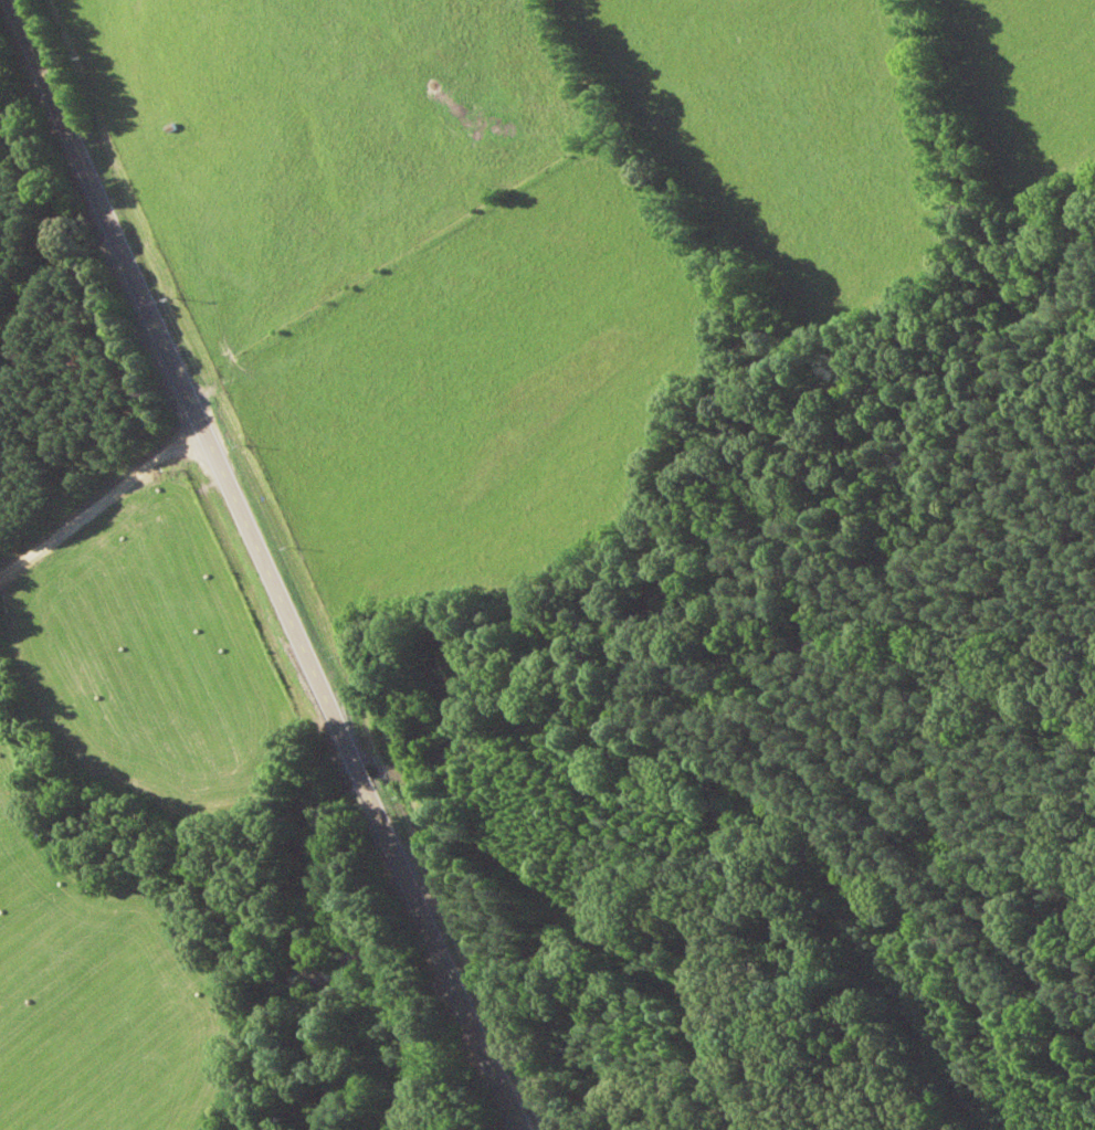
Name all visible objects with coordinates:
road: (213, 574)

